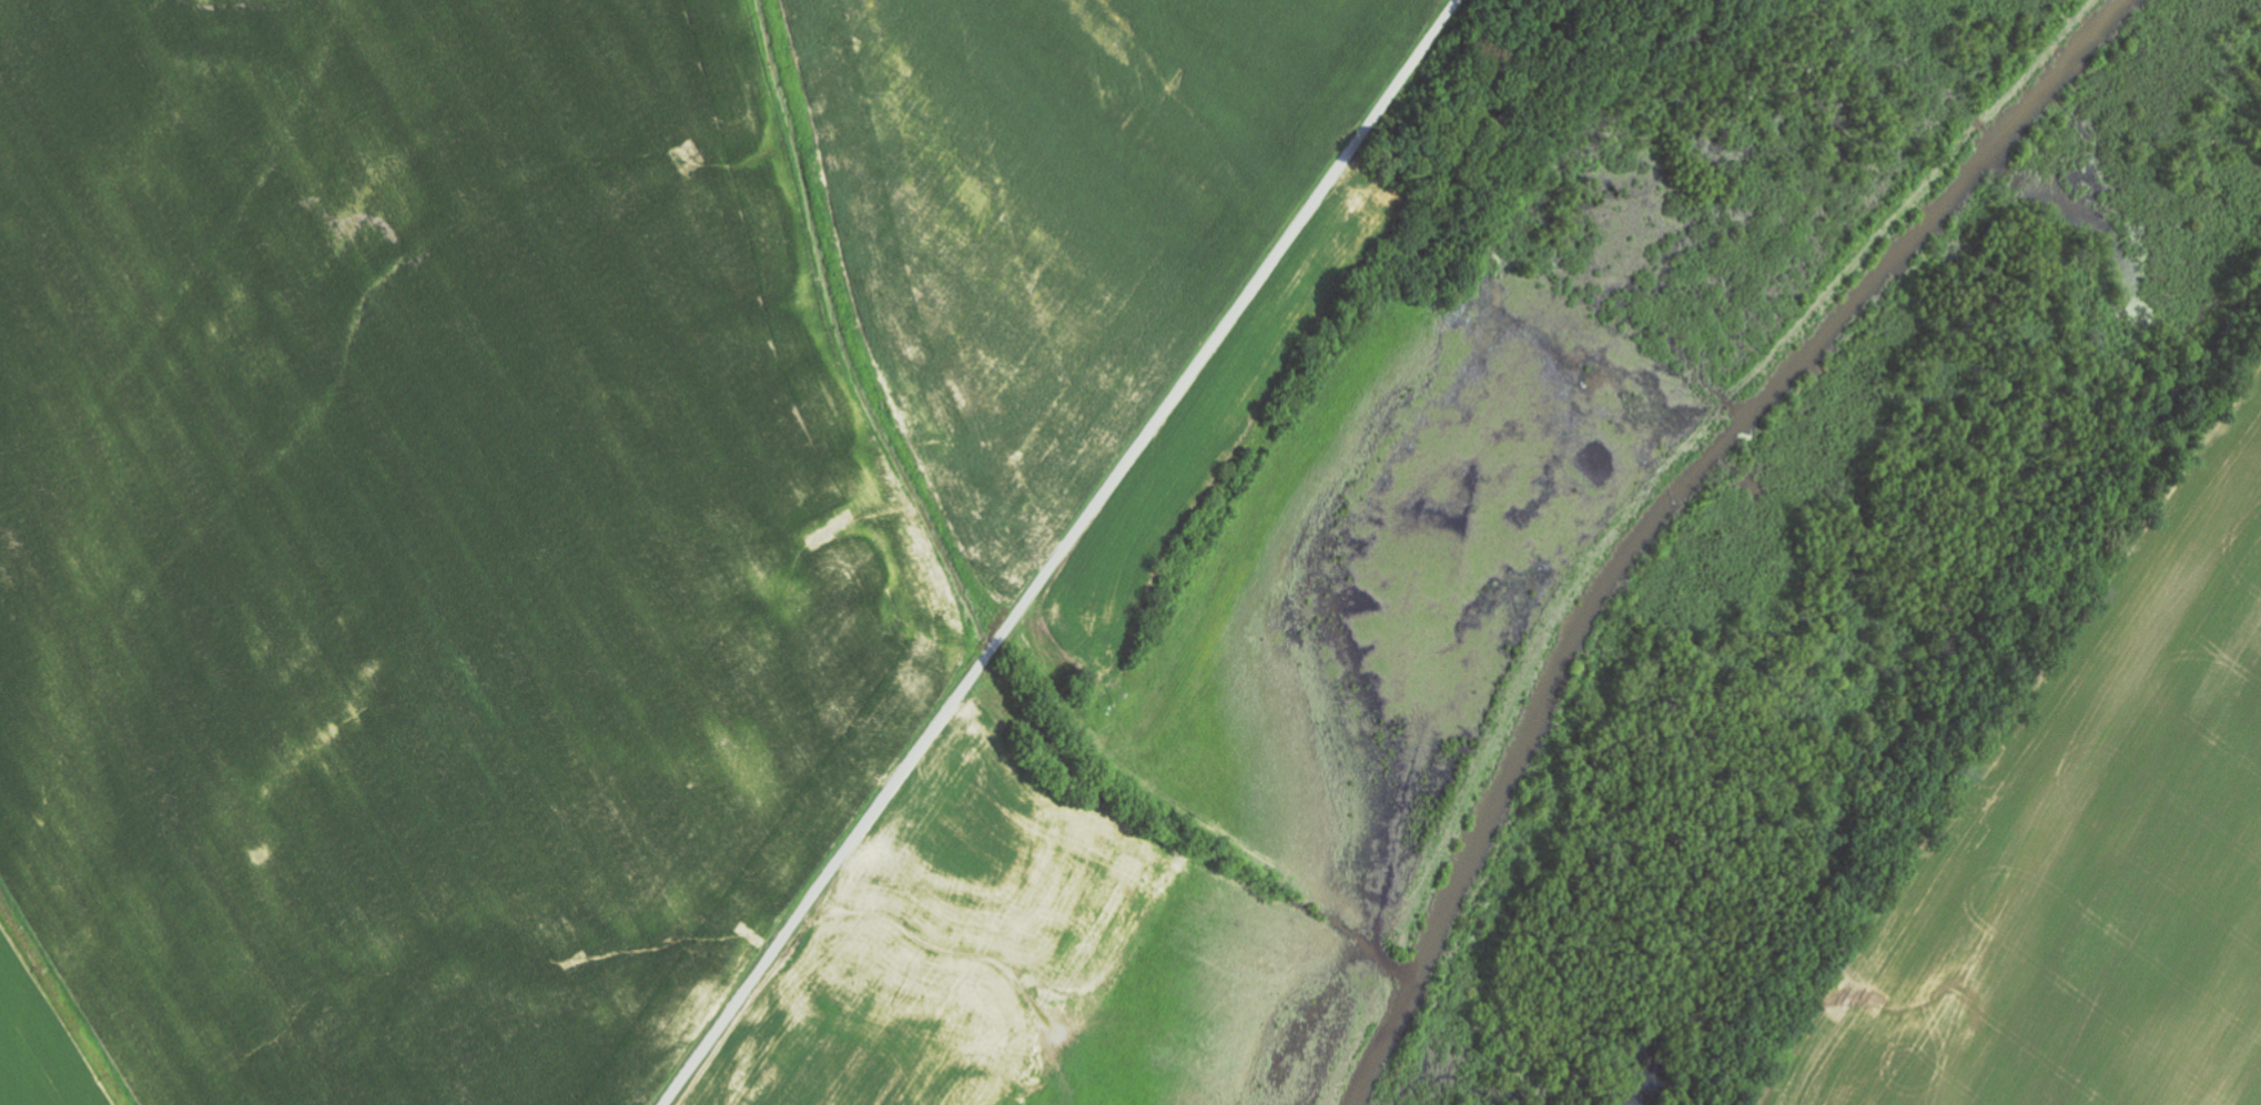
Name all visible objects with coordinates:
road: (1063, 552)

